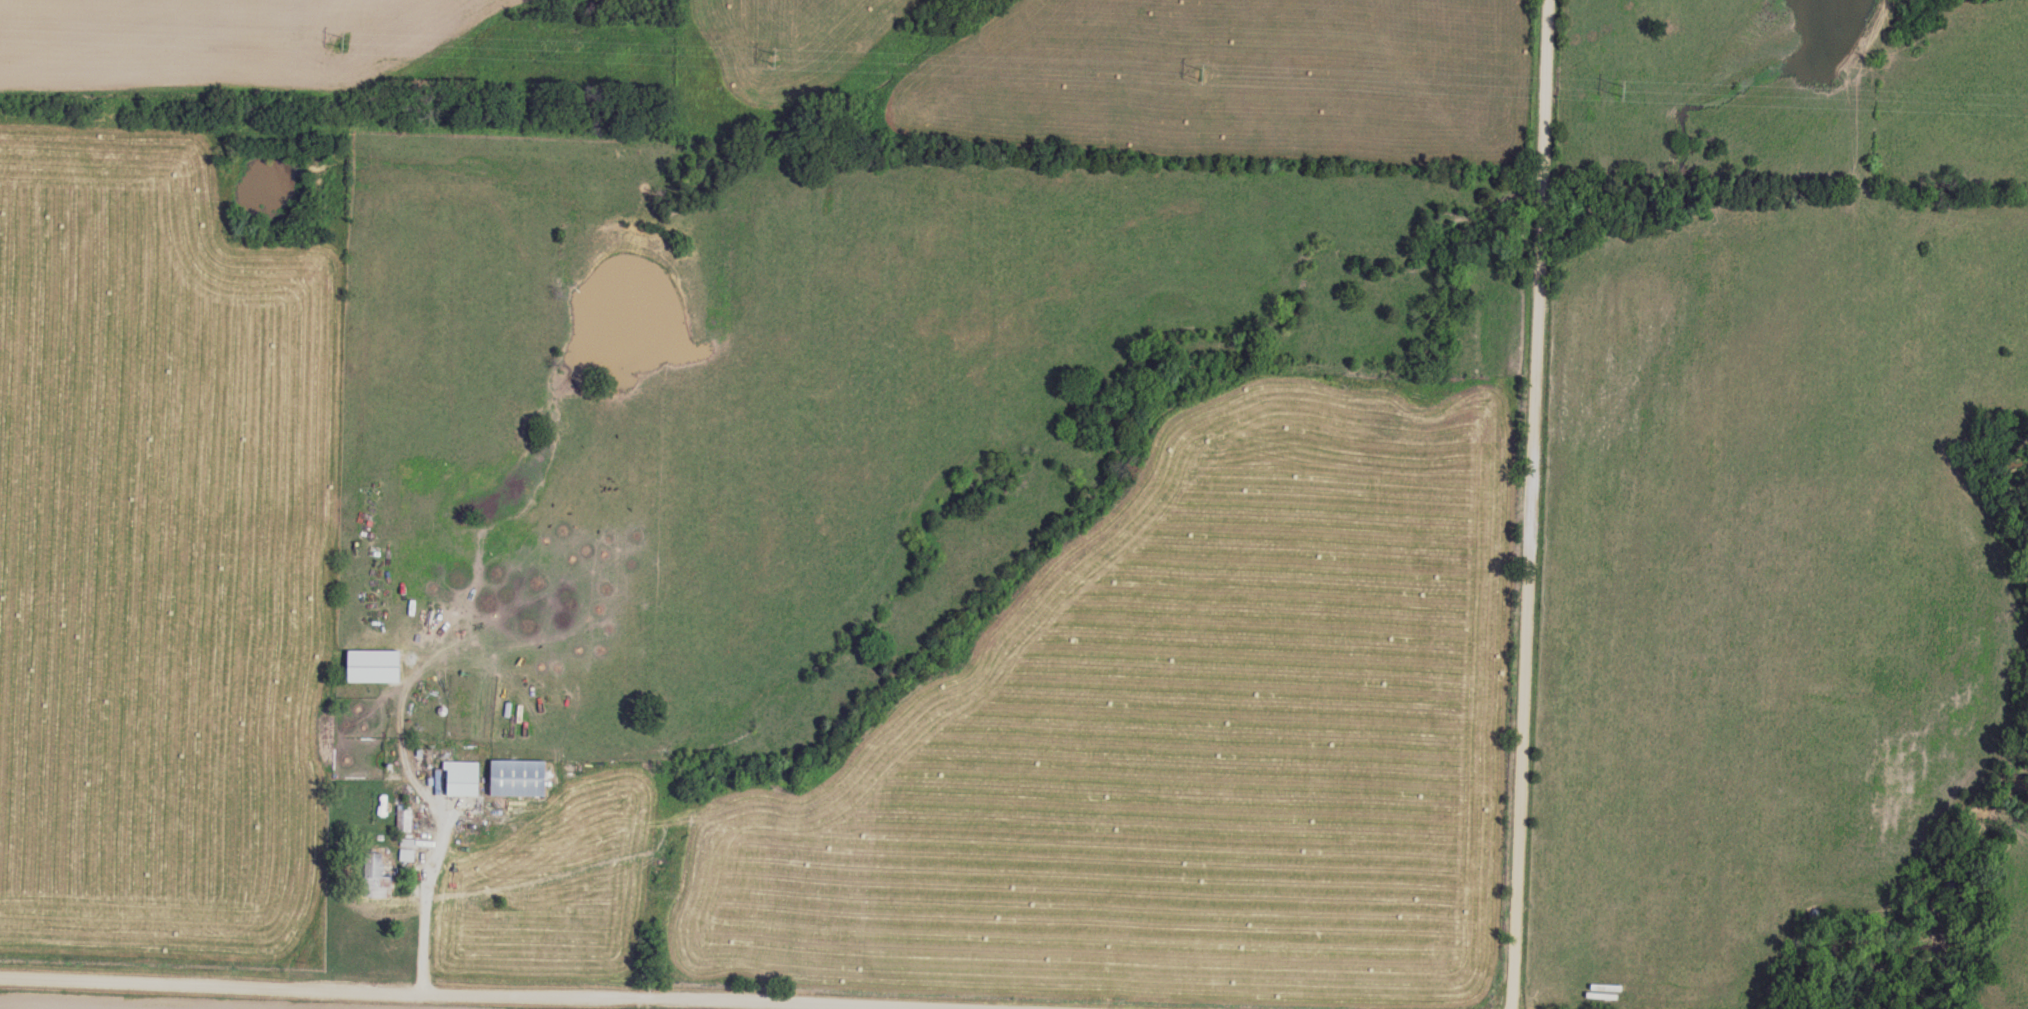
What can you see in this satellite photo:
power tower: (343, 42)
power tower: (773, 58)
power tower: (1201, 70)
power tower: (1618, 85)
road: (1532, 504)
building: (370, 663)
building: (514, 774)
building: (459, 775)
building: (405, 852)
building: (374, 874)
road: (425, 878)
road: (457, 996)

